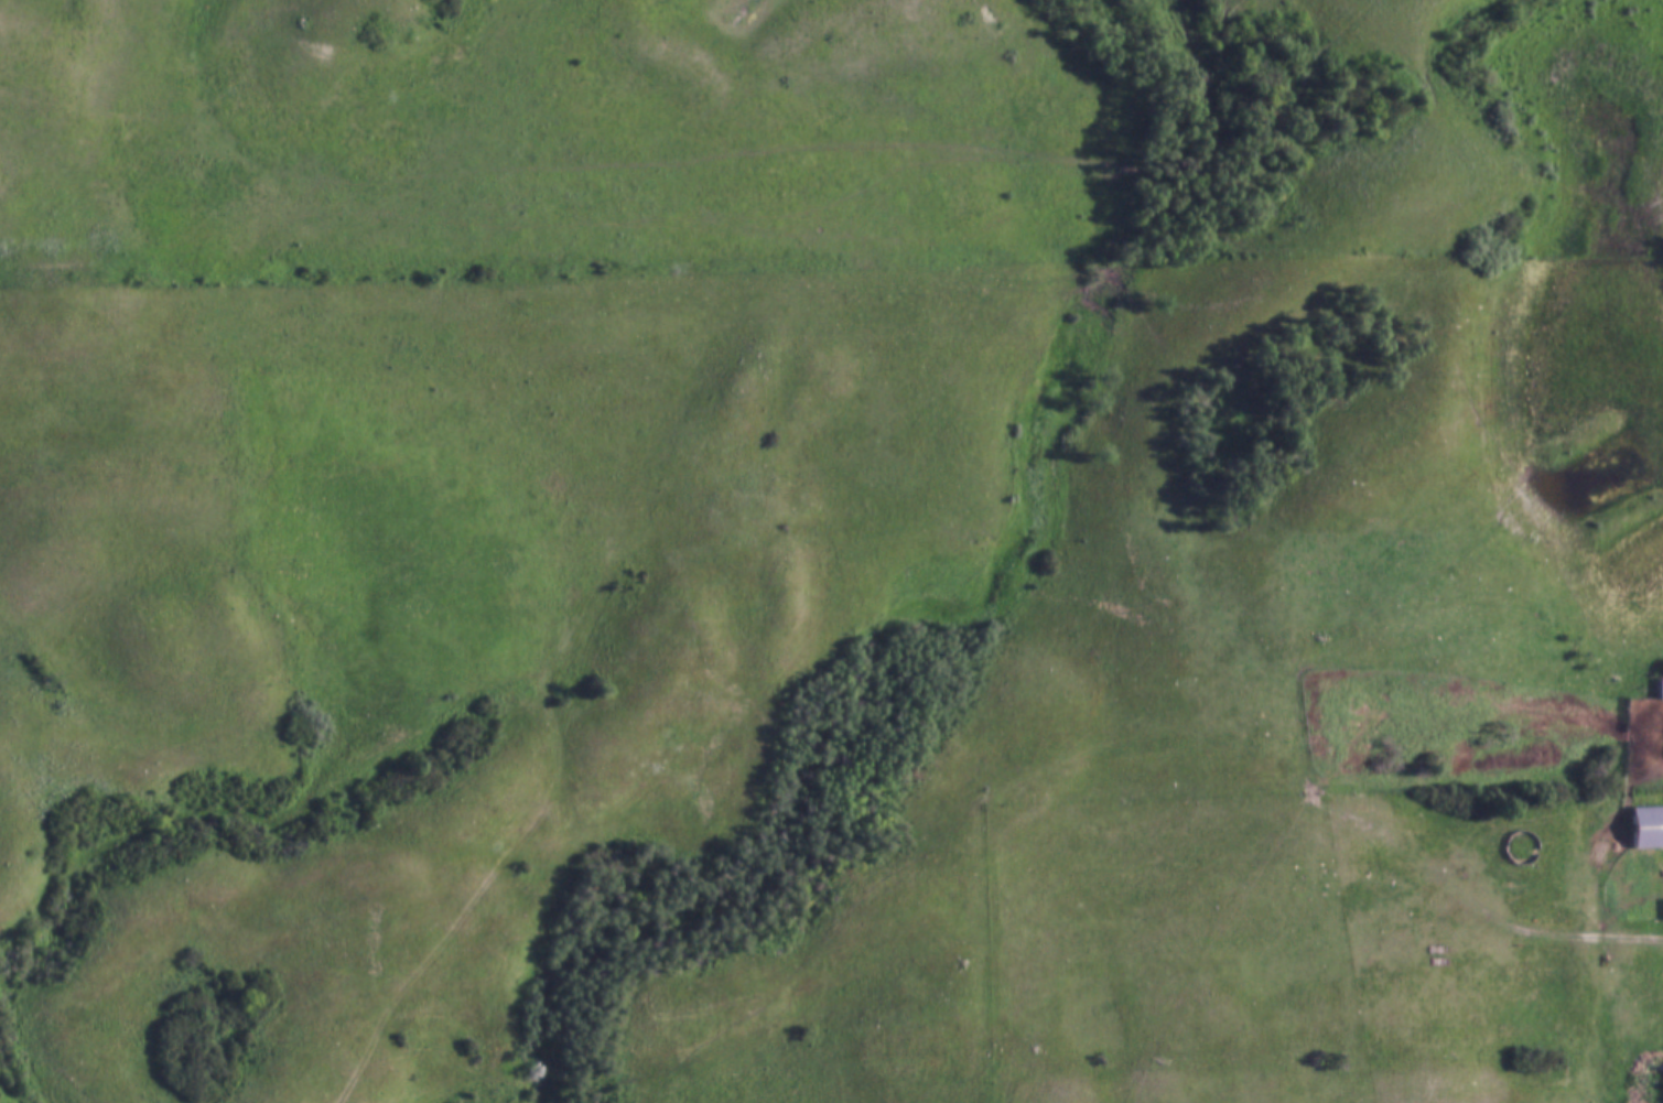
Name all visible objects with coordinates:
building: (1661, 688)
building: (1648, 825)
road: (1654, 836)

